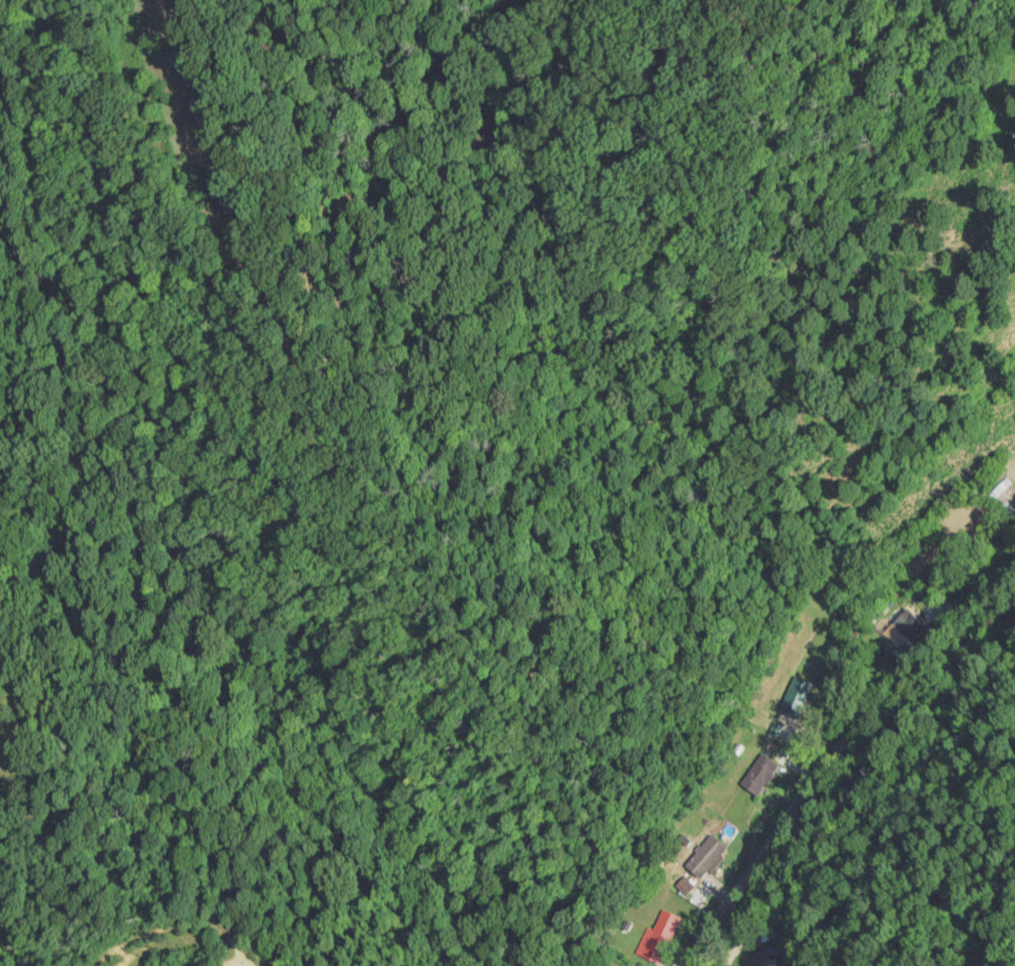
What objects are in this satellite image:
building: (1004, 498)
road: (834, 752)
building: (758, 775)
building: (706, 857)
building: (657, 941)

